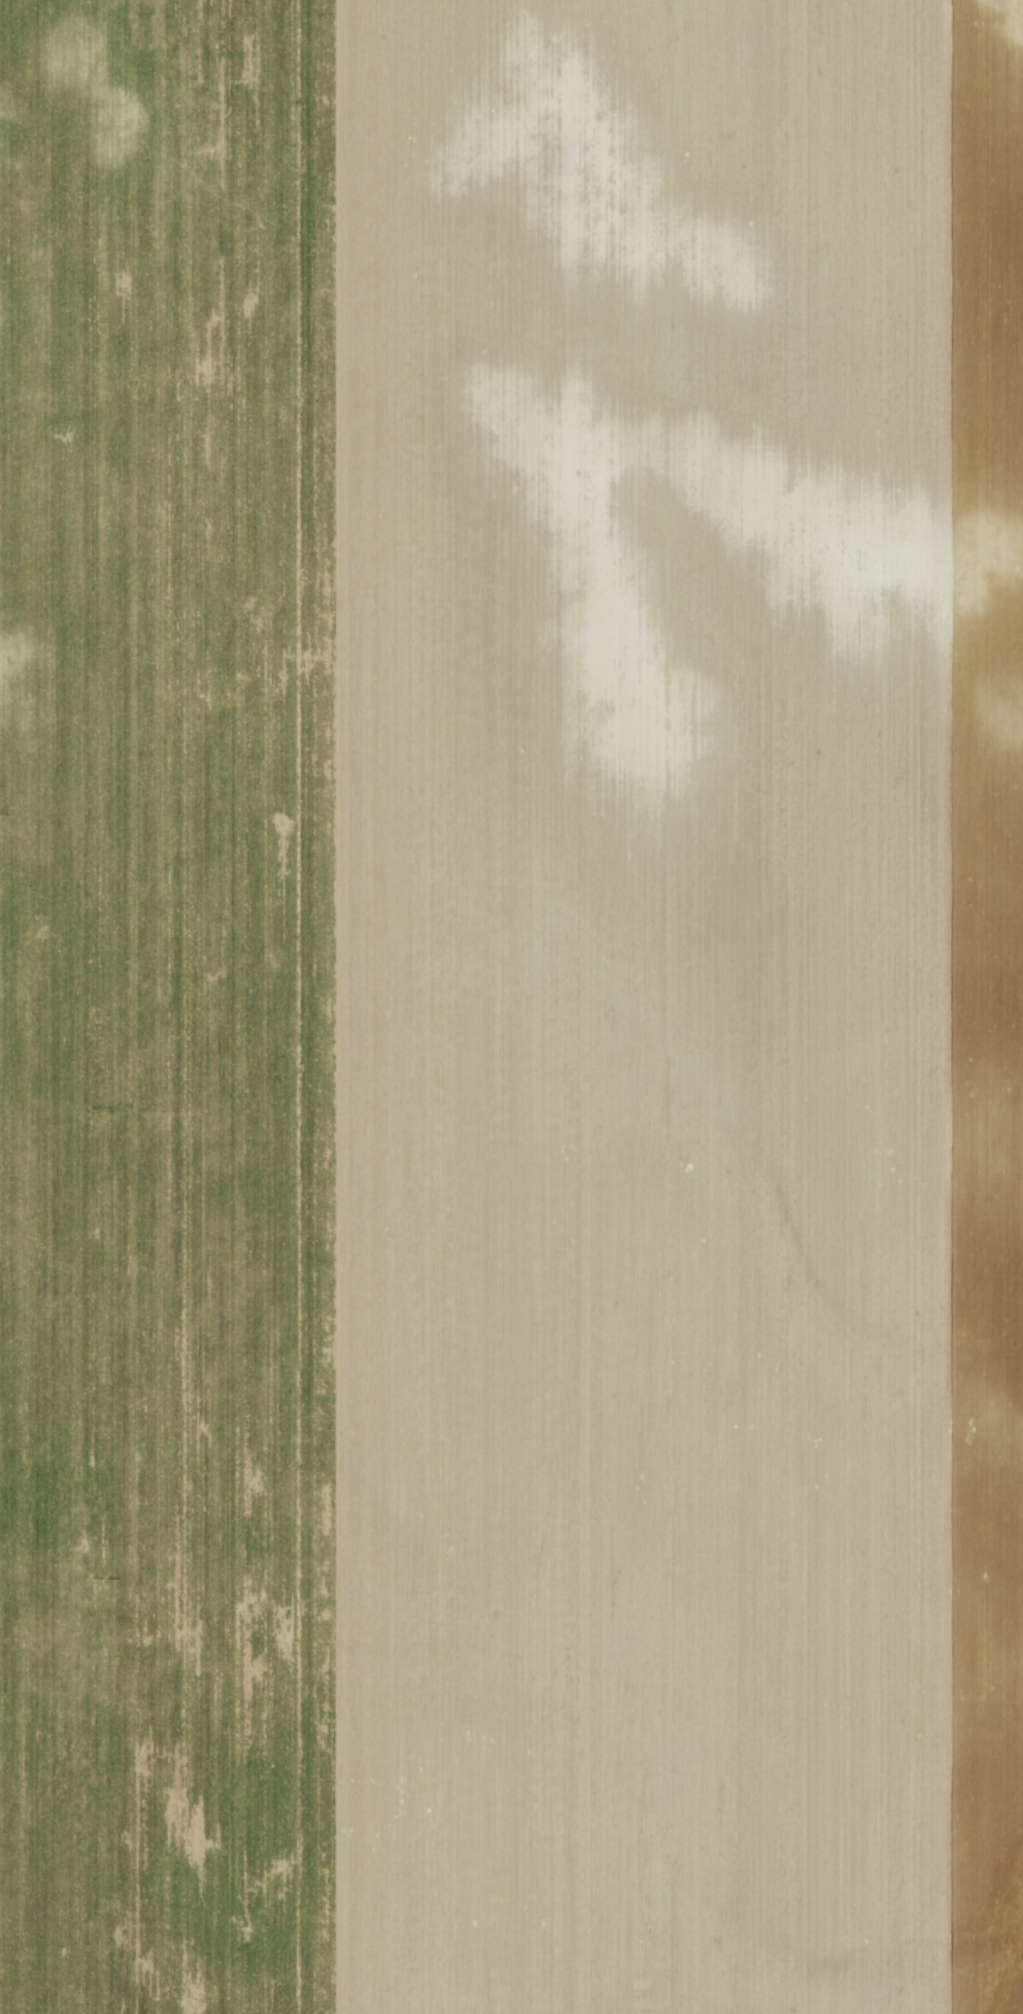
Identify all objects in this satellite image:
crop: (511, 1007)

